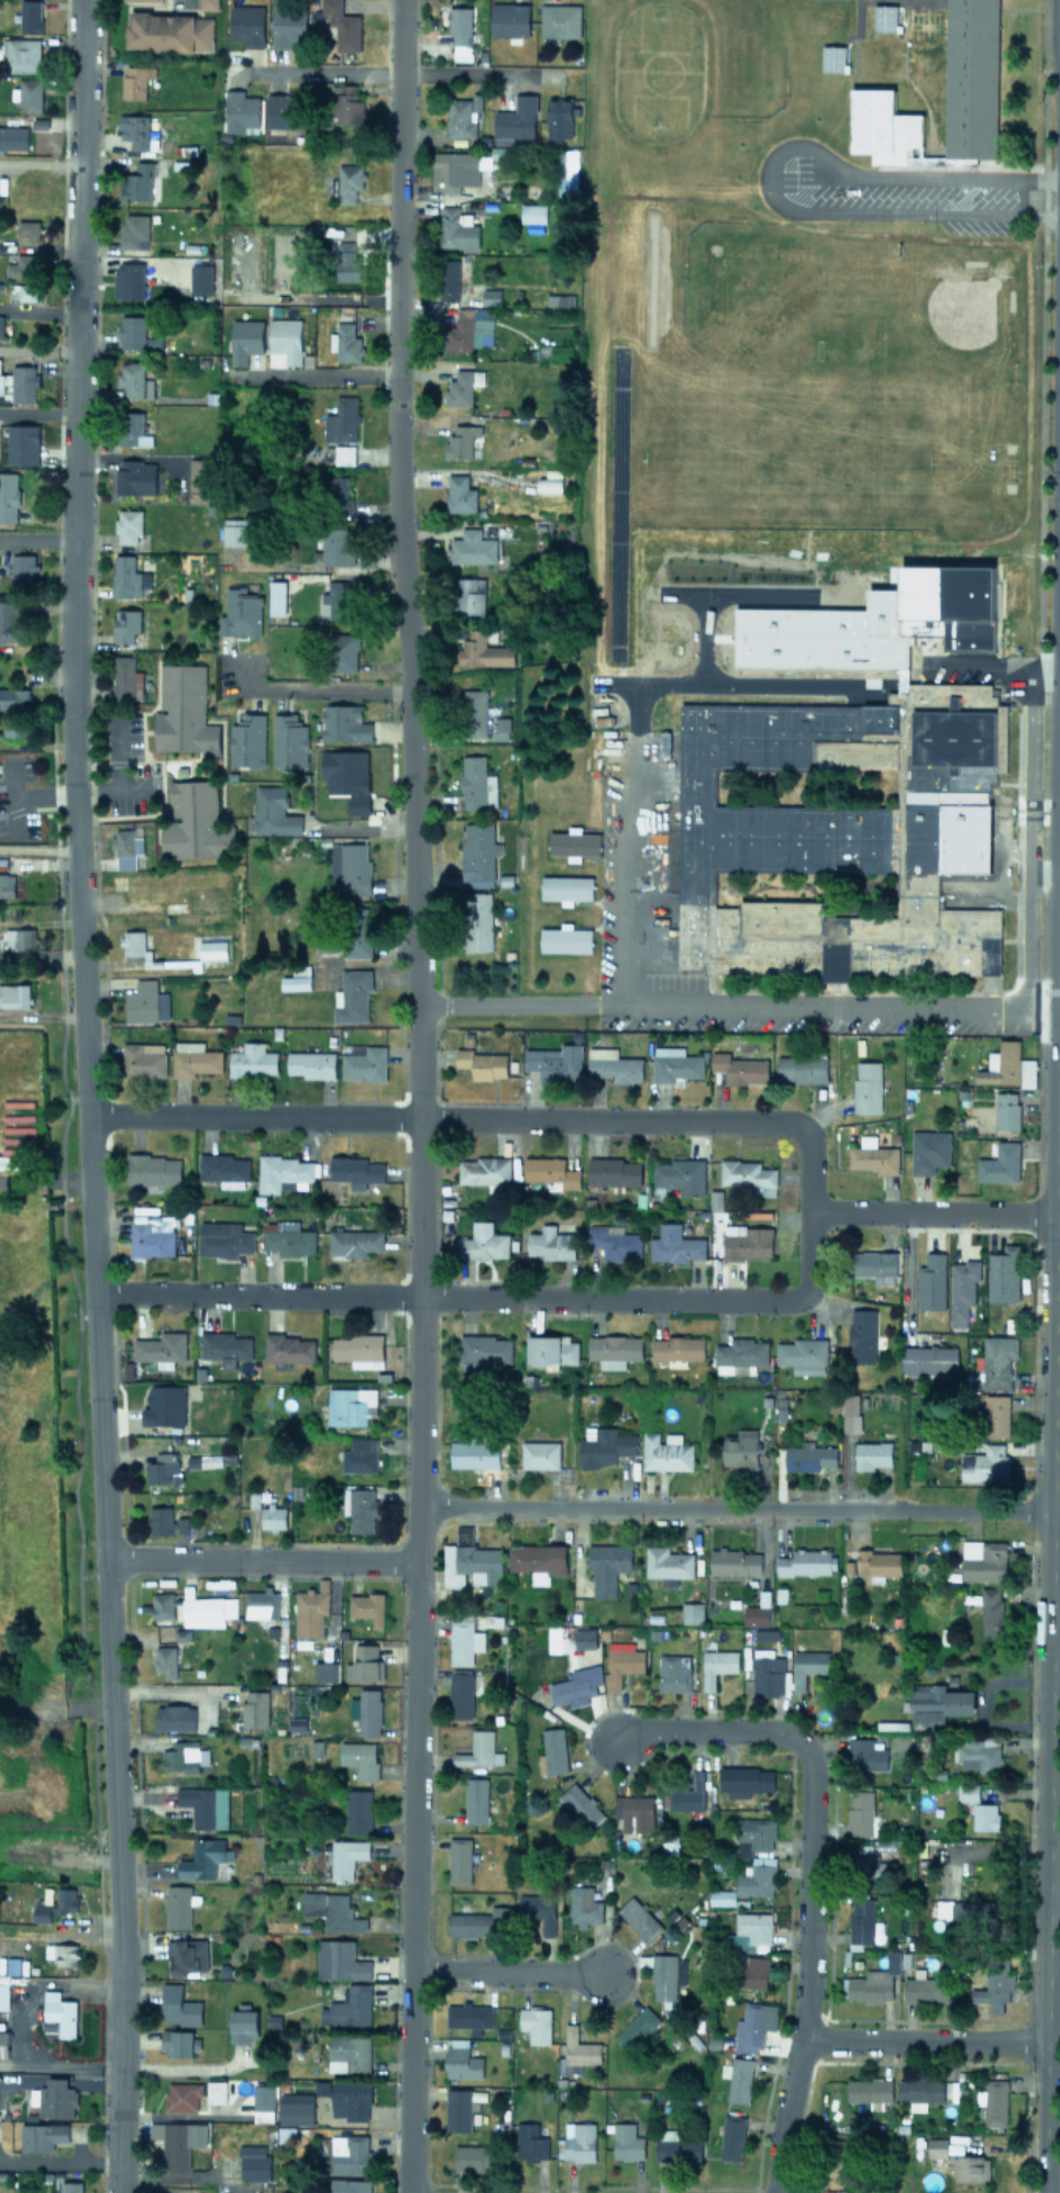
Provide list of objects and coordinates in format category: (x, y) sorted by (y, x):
building: (143, 0)
building: (207, 4)
building: (31, 15)
building: (884, 18)
building: (509, 20)
building: (560, 20)
building: (246, 24)
building: (460, 24)
building: (288, 25)
building: (342, 25)
building: (169, 32)
building: (972, 44)
building: (22, 54)
building: (832, 57)
park: (707, 58)
road: (327, 69)
road: (399, 71)
road: (476, 74)
building: (135, 80)
building: (30, 95)
building: (281, 110)
building: (239, 111)
building: (463, 115)
building: (559, 117)
building: (515, 120)
building: (134, 130)
building: (12, 137)
road: (40, 163)
building: (455, 170)
road: (765, 173)
building: (570, 177)
building: (349, 181)
building: (137, 183)
building: (532, 213)
building: (29, 229)
building: (456, 229)
building: (133, 231)
road: (958, 239)
building: (23, 265)
building: (350, 265)
building: (201, 278)
building: (129, 279)
building: (449, 279)
building: (25, 291)
park: (746, 291)
building: (490, 296)
road: (38, 311)
building: (2, 326)
building: (135, 333)
building: (344, 339)
building: (245, 340)
building: (284, 342)
road: (38, 350)
road: (329, 373)
building: (134, 379)
building: (1, 383)
building: (23, 383)
building: (461, 387)
road: (37, 412)
road: (395, 418)
building: (342, 420)
building: (133, 429)
building: (460, 441)
building: (22, 443)
building: (343, 454)
park: (786, 462)
building: (135, 476)
building: (199, 480)
building: (549, 485)
building: (460, 494)
building: (8, 496)
building: (338, 496)
track: (615, 503)
building: (128, 525)
building: (234, 531)
road: (36, 539)
building: (338, 546)
building: (472, 548)
building: (23, 570)
park: (704, 572)
building: (128, 577)
building: (471, 595)
building: (276, 597)
building: (334, 599)
building: (949, 603)
building: (240, 613)
building: (9, 618)
building: (125, 625)
building: (483, 650)
building: (344, 651)
road: (962, 669)
building: (125, 677)
road: (307, 691)
building: (14, 697)
building: (183, 710)
building: (475, 714)
building: (344, 723)
road: (1059, 724)
building: (498, 728)
building: (247, 740)
building: (289, 740)
road: (1059, 758)
building: (344, 771)
road: (621, 772)
building: (476, 784)
road: (47, 794)
building: (358, 804)
building: (274, 812)
park: (973, 816)
building: (195, 823)
building: (835, 831)
road: (1026, 838)
building: (573, 842)
building: (126, 846)
building: (478, 853)
road: (37, 855)
road: (1058, 857)
building: (350, 868)
park: (973, 871)
building: (7, 884)
building: (566, 888)
building: (478, 921)
building: (358, 932)
building: (16, 938)
building: (565, 938)
building: (133, 943)
building: (212, 948)
road: (40, 955)
building: (297, 978)
building: (14, 995)
building: (352, 995)
building: (145, 1002)
road: (720, 1002)
road: (1039, 1006)
road: (1057, 1031)
building: (143, 1058)
building: (194, 1058)
building: (253, 1060)
building: (363, 1061)
building: (555, 1062)
building: (311, 1064)
building: (482, 1064)
building: (674, 1064)
building: (614, 1065)
building: (1007, 1066)
building: (740, 1068)
building: (802, 1069)
building: (866, 1087)
road: (85, 1095)
building: (1006, 1110)
road: (486, 1117)
building: (929, 1150)
building: (873, 1156)
building: (1001, 1164)
building: (153, 1169)
building: (223, 1169)
building: (355, 1170)
building: (484, 1170)
building: (550, 1171)
building: (614, 1171)
building: (284, 1172)
building: (680, 1175)
building: (749, 1175)
road: (44, 1182)
road: (859, 1212)
road: (983, 1213)
road: (1057, 1222)
building: (152, 1235)
building: (288, 1237)
building: (223, 1239)
building: (354, 1242)
building: (483, 1242)
building: (615, 1242)
building: (747, 1242)
building: (551, 1243)
building: (675, 1244)
building: (874, 1266)
building: (1003, 1275)
building: (931, 1281)
road: (910, 1285)
building: (962, 1290)
road: (488, 1296)
building: (862, 1335)
building: (224, 1347)
building: (161, 1348)
building: (288, 1348)
building: (358, 1349)
building: (551, 1349)
building: (614, 1349)
building: (677, 1349)
building: (484, 1351)
building: (740, 1355)
building: (803, 1355)
building: (929, 1359)
building: (997, 1360)
building: (164, 1406)
building: (350, 1406)
building: (850, 1413)
building: (997, 1413)
road: (1051, 1431)
road: (418, 1442)
building: (604, 1445)
park: (38, 1447)
building: (740, 1447)
building: (665, 1452)
building: (474, 1454)
building: (540, 1454)
building: (360, 1455)
building: (872, 1455)
building: (810, 1456)
road: (1056, 1456)
building: (987, 1464)
building: (163, 1468)
road: (733, 1501)
building: (360, 1509)
building: (273, 1517)
building: (159, 1520)
building: (180, 1525)
building: (984, 1560)
road: (257, 1561)
building: (538, 1561)
building: (735, 1562)
building: (807, 1562)
building: (879, 1563)
building: (470, 1564)
building: (667, 1564)
building: (608, 1567)
building: (261, 1602)
building: (163, 1605)
building: (367, 1607)
building: (310, 1609)
building: (207, 1610)
building: (992, 1610)
building: (692, 1612)
building: (755, 1616)
building: (181, 1634)
road: (1055, 1635)
building: (584, 1638)
building: (463, 1641)
building: (165, 1661)
building: (363, 1663)
building: (622, 1663)
building: (717, 1665)
building: (807, 1666)
building: (325, 1671)
building: (673, 1673)
building: (770, 1676)
building: (575, 1686)
building: (461, 1694)
road: (164, 1696)
building: (939, 1702)
building: (255, 1708)
building: (366, 1711)
building: (297, 1723)
road: (708, 1729)
building: (479, 1750)
building: (554, 1750)
building: (978, 1753)
building: (866, 1754)
building: (184, 1756)
building: (360, 1759)
building: (746, 1781)
building: (967, 1792)
building: (689, 1796)
building: (475, 1800)
building: (581, 1805)
building: (205, 1806)
building: (357, 1810)
building: (634, 1812)
building: (861, 1812)
building: (985, 1816)
building: (755, 1834)
building: (41, 1853)
building: (346, 1856)
building: (202, 1859)
building: (459, 1860)
building: (865, 1864)
building: (758, 1877)
building: (721, 1897)
building: (56, 1905)
building: (177, 1906)
building: (583, 1906)
building: (537, 1907)
building: (332, 1910)
building: (959, 1910)
road: (1052, 1910)
building: (639, 1919)
building: (864, 1921)
building: (479, 1922)
building: (755, 1929)
building: (62, 1953)
building: (187, 1955)
building: (340, 1960)
road: (1052, 1963)
road: (806, 1969)
road: (503, 1970)
building: (753, 1972)
building: (663, 1975)
building: (877, 1979)
building: (994, 1987)
building: (926, 1988)
building: (3, 1992)
road: (23, 1996)
building: (179, 2006)
building: (350, 2007)
road: (1052, 2010)
building: (470, 2014)
building: (57, 2015)
building: (534, 2023)
building: (637, 2027)
building: (751, 2027)
road: (921, 2039)
building: (177, 2042)
building: (3, 2043)
building: (577, 2050)
building: (349, 2053)
building: (461, 2062)
road: (54, 2067)
road: (177, 2069)
building: (738, 2078)
building: (869, 2089)
building: (920, 2089)
building: (216, 2091)
building: (181, 2096)
building: (55, 2098)
building: (350, 2100)
building: (993, 2101)
building: (263, 2102)
building: (461, 2106)
building: (296, 2108)
building: (42, 2136)
building: (731, 2137)
building: (530, 2141)
building: (576, 2141)
building: (627, 2141)
building: (180, 2144)
building: (937, 2147)
building: (677, 2149)
building: (349, 2153)
building: (473, 2156)
road: (54, 2162)
building: (253, 2163)
building: (969, 2167)
road: (177, 2175)
building: (350, 2185)
building: (69, 2186)

